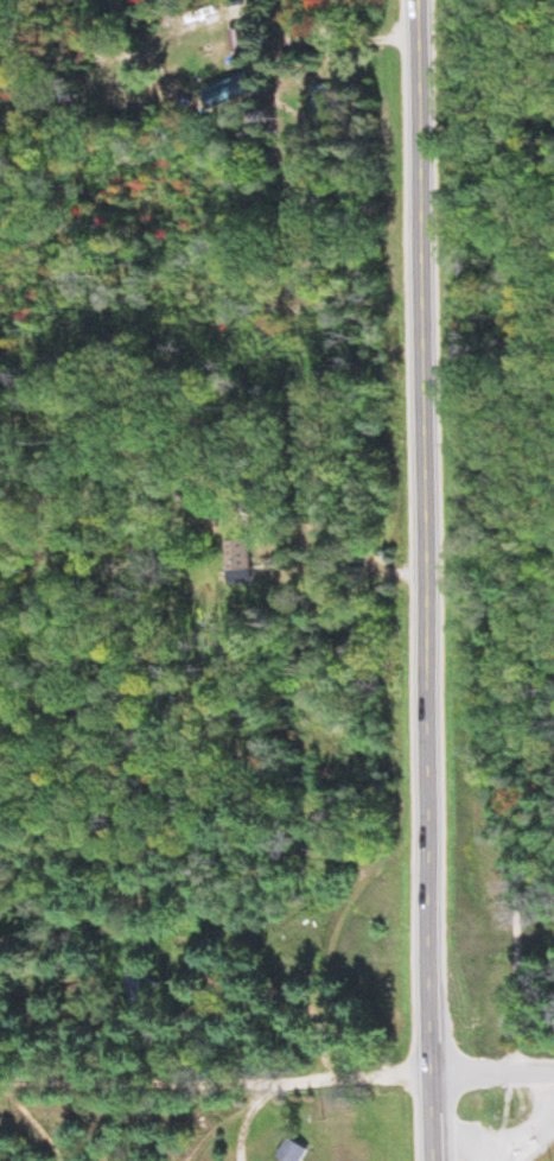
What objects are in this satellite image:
building: (236, 563)
road: (427, 580)
building: (178, 938)
road: (68, 1045)
road: (493, 1078)
road: (216, 1085)
road: (253, 1124)
building: (292, 1152)

